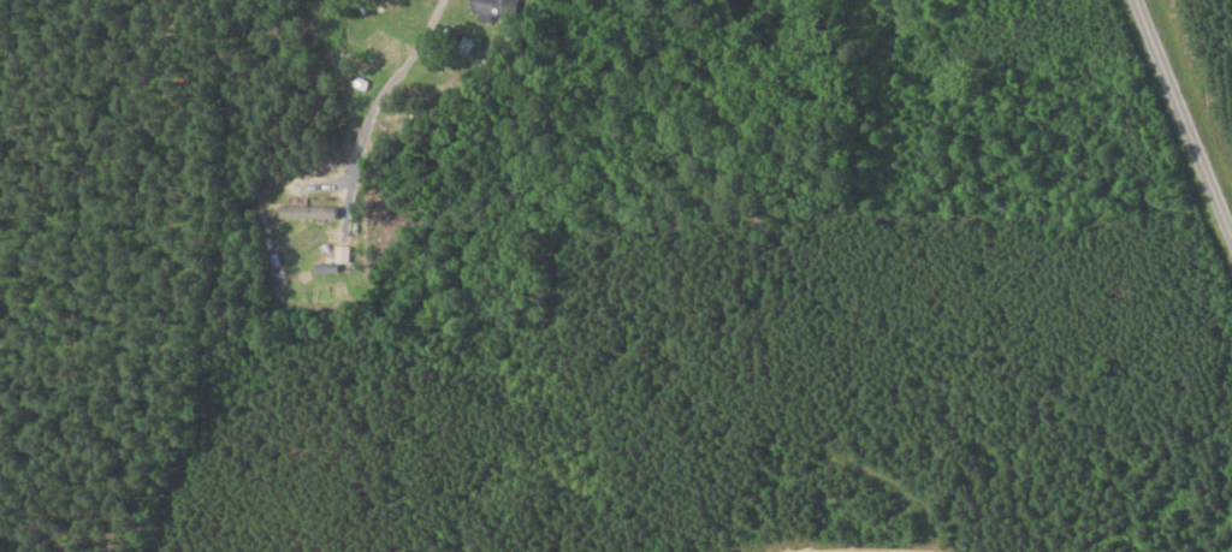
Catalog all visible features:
road: (1187, 111)

